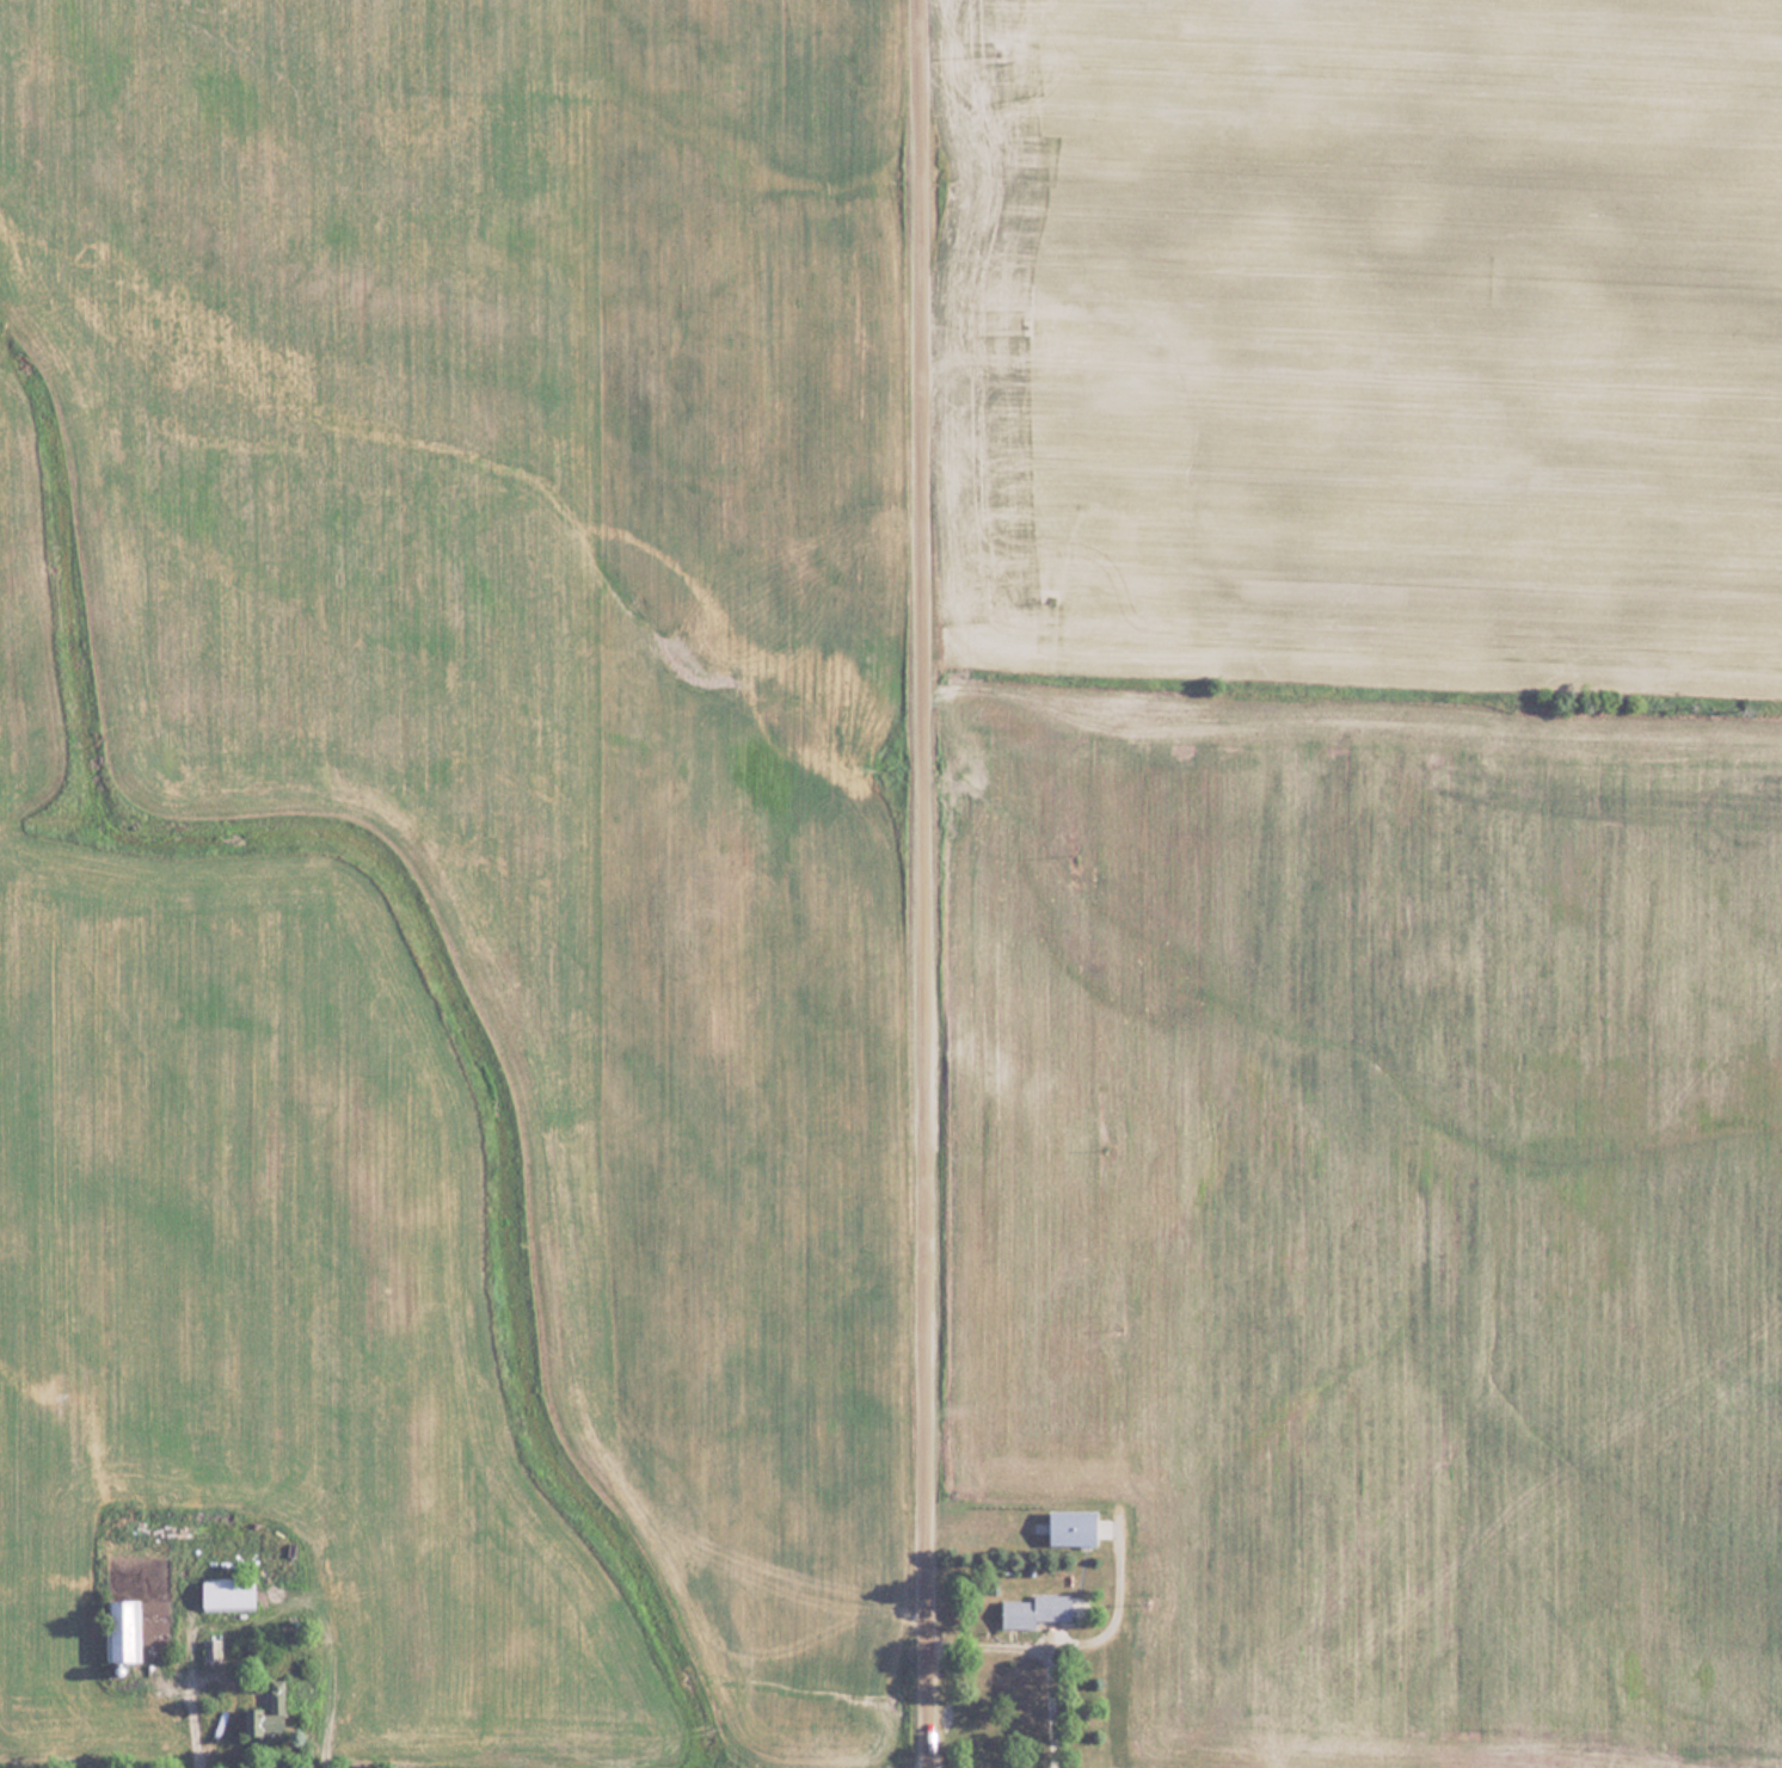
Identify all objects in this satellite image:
road: (928, 883)
building: (1075, 1528)
building: (229, 1593)
building: (1036, 1609)
building: (123, 1631)
building: (269, 1713)

